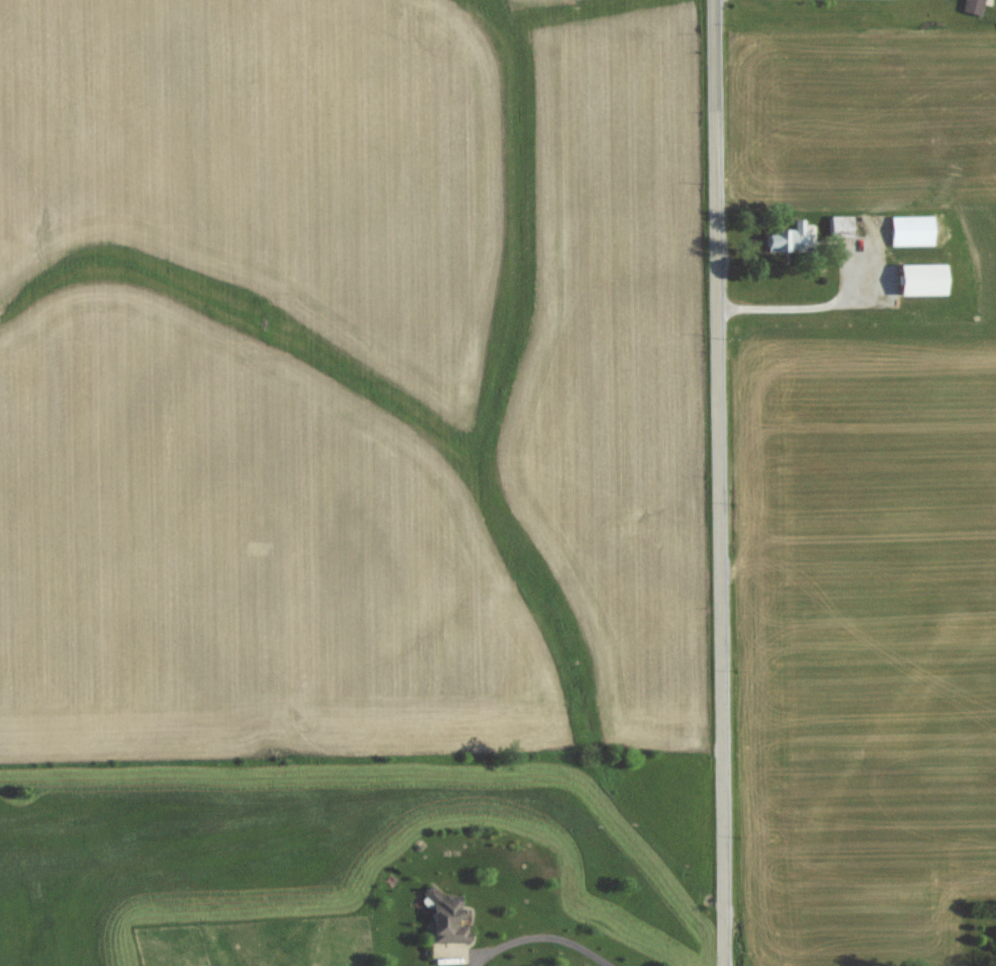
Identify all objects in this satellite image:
building: (973, 6)
building: (840, 226)
building: (912, 230)
building: (920, 278)
road: (819, 308)
road: (719, 483)
building: (447, 917)
road: (541, 929)

